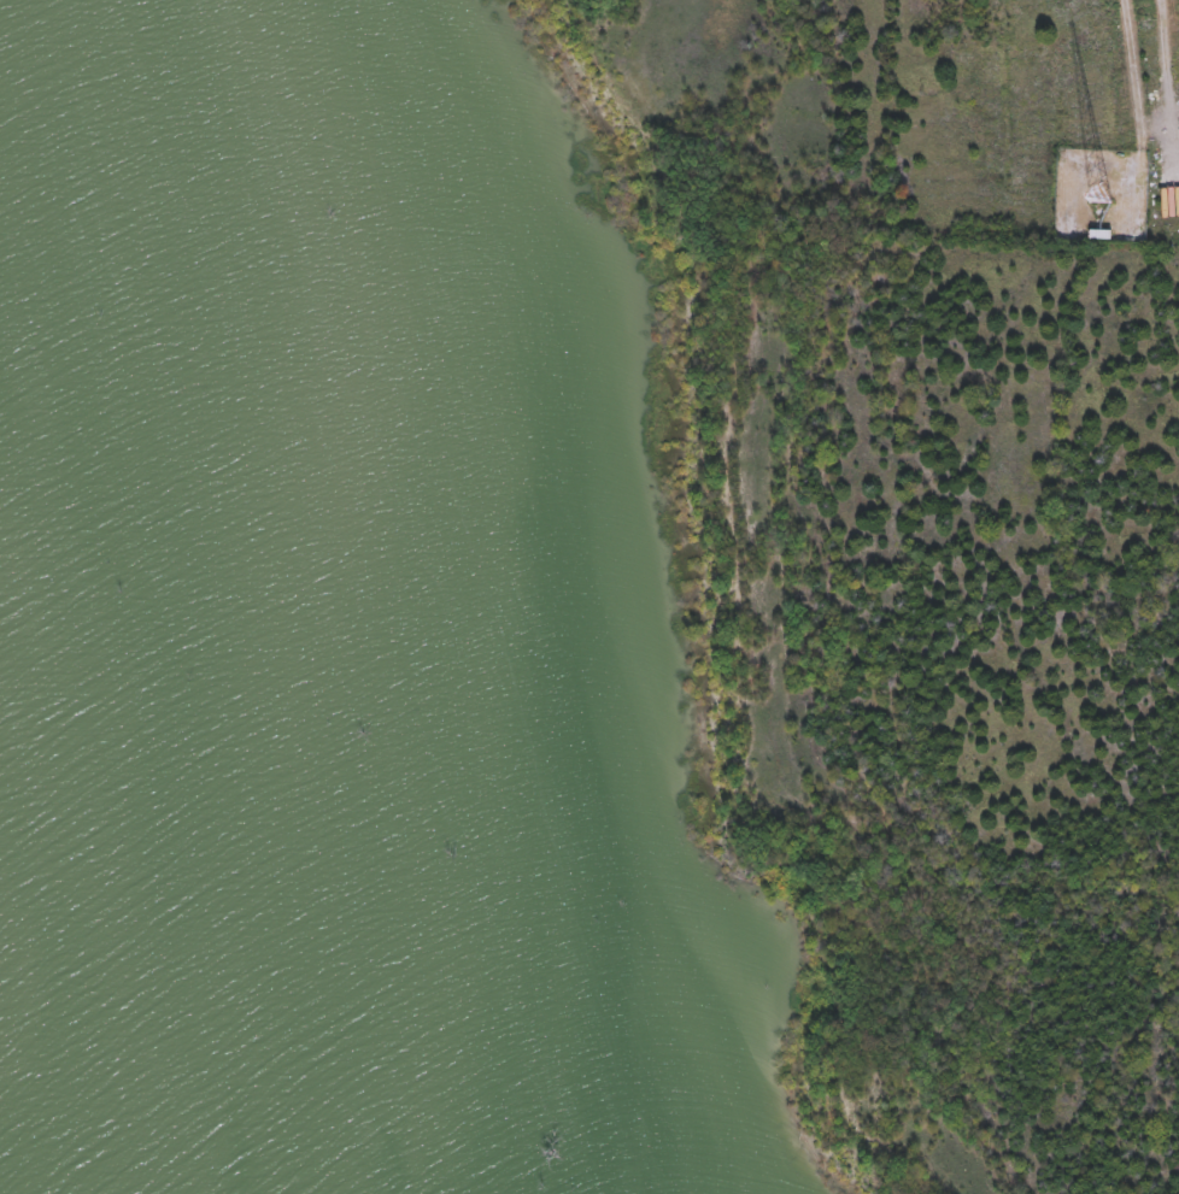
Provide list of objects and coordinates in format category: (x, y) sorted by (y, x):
building: (1099, 235)

